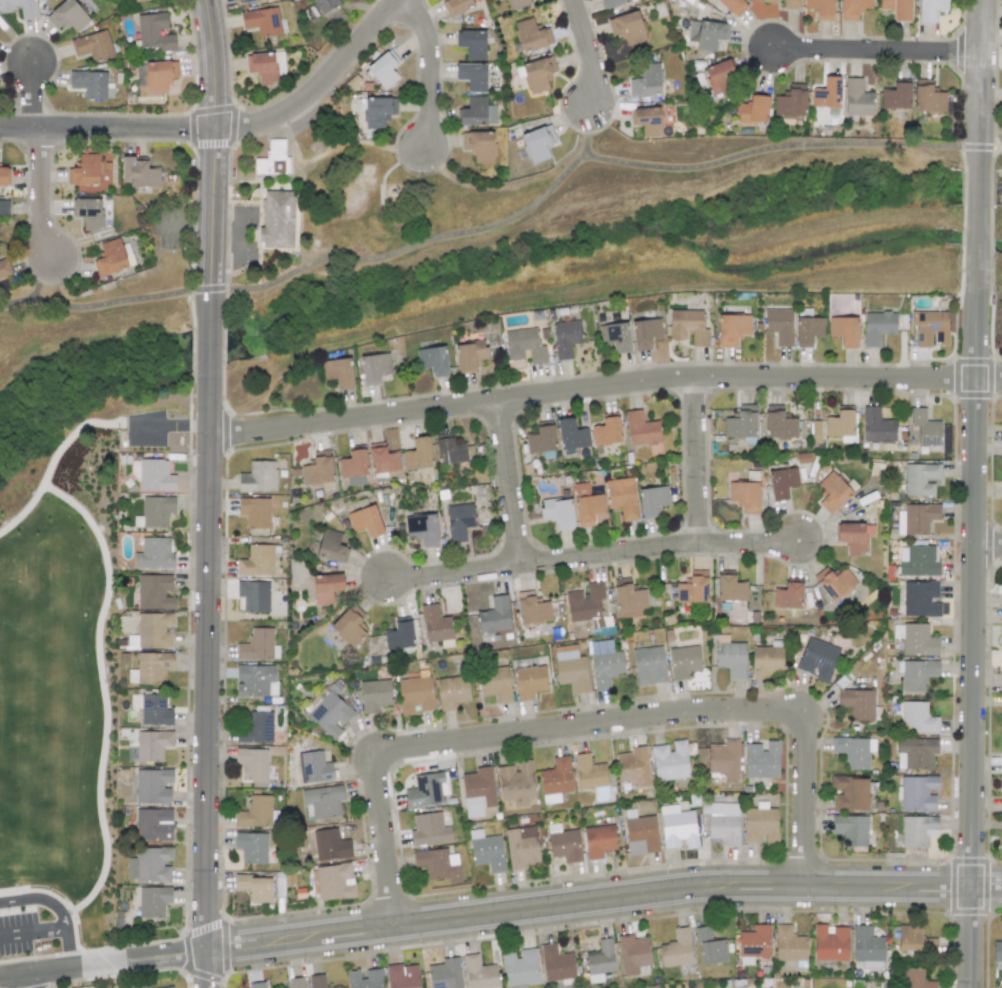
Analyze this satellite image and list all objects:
building: (134, 0)
building: (245, 1)
building: (769, 1)
building: (518, 3)
building: (610, 3)
building: (791, 4)
building: (325, 5)
building: (456, 6)
building: (733, 6)
building: (21, 7)
building: (820, 8)
building: (852, 8)
building: (897, 8)
building: (930, 9)
building: (68, 15)
building: (262, 21)
building: (627, 27)
building: (154, 32)
building: (706, 33)
building: (532, 35)
building: (471, 43)
building: (93, 45)
road: (877, 53)
road: (590, 54)
building: (262, 67)
building: (383, 70)
road: (434, 70)
building: (537, 74)
building: (472, 76)
building: (720, 77)
building: (646, 80)
building: (91, 84)
road: (978, 84)
building: (826, 93)
building: (897, 96)
road: (30, 97)
building: (927, 97)
building: (857, 98)
building: (791, 103)
building: (752, 110)
building: (378, 111)
building: (477, 112)
building: (647, 120)
road: (225, 129)
road: (586, 133)
road: (354, 142)
building: (537, 143)
road: (212, 145)
building: (479, 145)
road: (779, 148)
road: (990, 148)
building: (273, 159)
road: (391, 169)
building: (85, 171)
building: (139, 173)
building: (3, 176)
road: (236, 182)
park: (353, 186)
road: (976, 188)
road: (489, 189)
road: (38, 196)
park: (346, 198)
road: (236, 202)
road: (260, 204)
building: (4, 207)
building: (88, 212)
building: (277, 219)
road: (406, 247)
building: (110, 258)
building: (4, 267)
road: (46, 280)
road: (122, 300)
road: (18, 304)
road: (209, 310)
building: (1001, 318)
building: (779, 325)
building: (688, 326)
building: (877, 327)
building: (930, 327)
building: (732, 328)
building: (808, 330)
building: (844, 330)
building: (645, 333)
building: (615, 336)
building: (565, 338)
road: (208, 351)
building: (469, 355)
building: (432, 360)
building: (374, 367)
building: (338, 372)
road: (604, 385)
building: (740, 425)
building: (841, 425)
building: (877, 426)
building: (925, 427)
building: (641, 429)
road: (179, 430)
building: (606, 431)
building: (815, 431)
parking lot: (146, 432)
building: (571, 434)
building: (541, 440)
building: (450, 452)
road: (59, 454)
building: (418, 454)
road: (694, 459)
building: (383, 460)
building: (353, 466)
building: (317, 469)
building: (155, 475)
building: (258, 477)
building: (920, 478)
road: (507, 482)
building: (782, 482)
building: (832, 491)
building: (745, 496)
building: (621, 497)
building: (652, 500)
building: (586, 505)
building: (156, 510)
building: (255, 511)
building: (558, 512)
building: (366, 521)
building: (459, 521)
building: (422, 529)
building: (852, 537)
building: (331, 546)
road: (988, 547)
road: (973, 548)
building: (154, 554)
road: (591, 555)
building: (257, 561)
building: (918, 561)
building: (834, 582)
building: (326, 587)
building: (730, 588)
building: (692, 591)
building: (254, 596)
building: (788, 596)
building: (628, 599)
building: (920, 599)
building: (586, 603)
building: (532, 608)
building: (495, 616)
building: (436, 626)
building: (348, 627)
building: (155, 630)
building: (399, 636)
building: (918, 640)
building: (258, 645)
building: (731, 658)
building: (818, 659)
building: (683, 661)
building: (765, 661)
building: (648, 666)
building: (151, 668)
building: (606, 668)
building: (571, 669)
building: (916, 673)
park: (65, 679)
road: (205, 680)
building: (255, 680)
building: (1001, 680)
building: (529, 681)
building: (495, 683)
building: (452, 691)
road: (103, 692)
building: (415, 694)
building: (374, 695)
building: (858, 703)
building: (155, 709)
building: (329, 711)
building: (917, 718)
building: (1001, 720)
road: (589, 724)
building: (256, 728)
building: (152, 744)
building: (854, 751)
building: (915, 753)
building: (761, 759)
building: (670, 761)
building: (724, 761)
building: (1001, 762)
building: (252, 764)
building: (313, 767)
building: (633, 767)
building: (555, 780)
building: (516, 782)
building: (153, 786)
building: (426, 789)
building: (478, 791)
building: (1001, 792)
building: (850, 793)
building: (917, 793)
building: (322, 801)
building: (254, 813)
building: (153, 824)
building: (721, 824)
building: (760, 824)
building: (1000, 825)
building: (429, 829)
building: (850, 829)
building: (917, 830)
building: (640, 833)
building: (598, 841)
building: (563, 843)
building: (328, 844)
building: (521, 846)
building: (251, 847)
building: (486, 851)
building: (438, 864)
building: (150, 865)
building: (333, 882)
building: (255, 887)
road: (601, 898)
building: (153, 901)
road: (63, 904)
road: (56, 911)
road: (32, 934)
parking lot: (37, 935)
building: (909, 936)
road: (969, 938)
building: (754, 942)
building: (830, 943)
building: (789, 944)
building: (710, 947)
building: (867, 947)
building: (677, 948)
building: (997, 951)
building: (633, 953)
building: (600, 961)
building: (556, 963)
road: (102, 966)
building: (519, 966)
building: (445, 973)
building: (479, 973)
building: (402, 976)
building: (365, 978)
building: (916, 979)
road: (28, 981)
building: (295, 982)
building: (319, 982)
building: (257, 985)
building: (169, 987)

